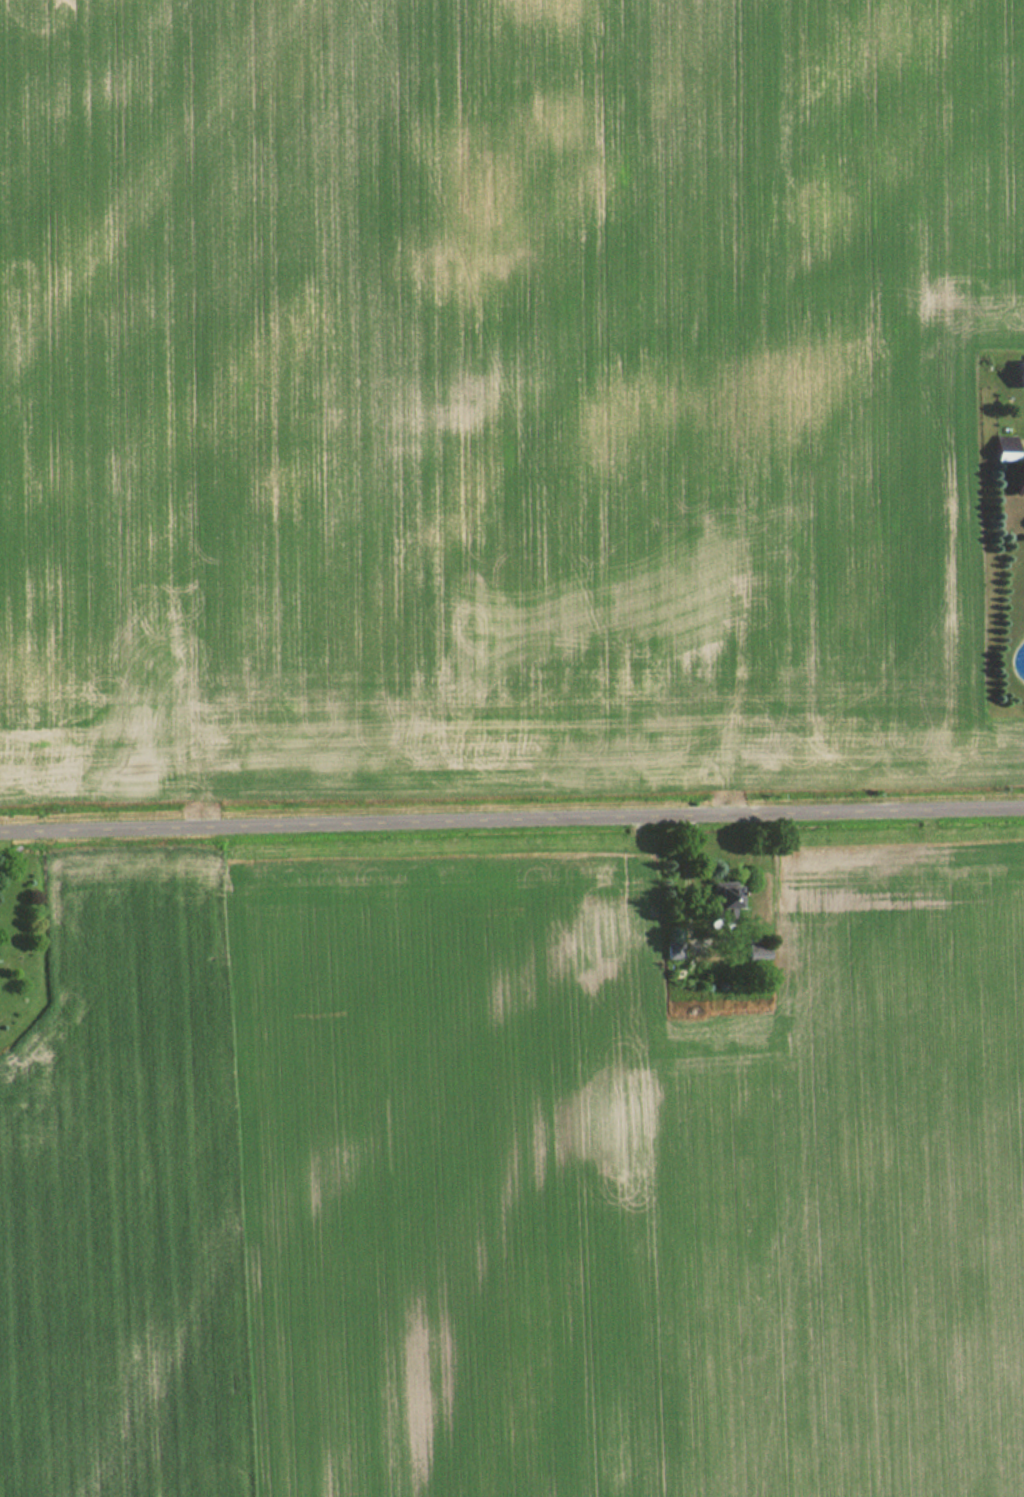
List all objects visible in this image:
building: (1021, 374)
crop: (497, 393)
road: (511, 814)
road: (687, 864)
crop: (515, 1184)

